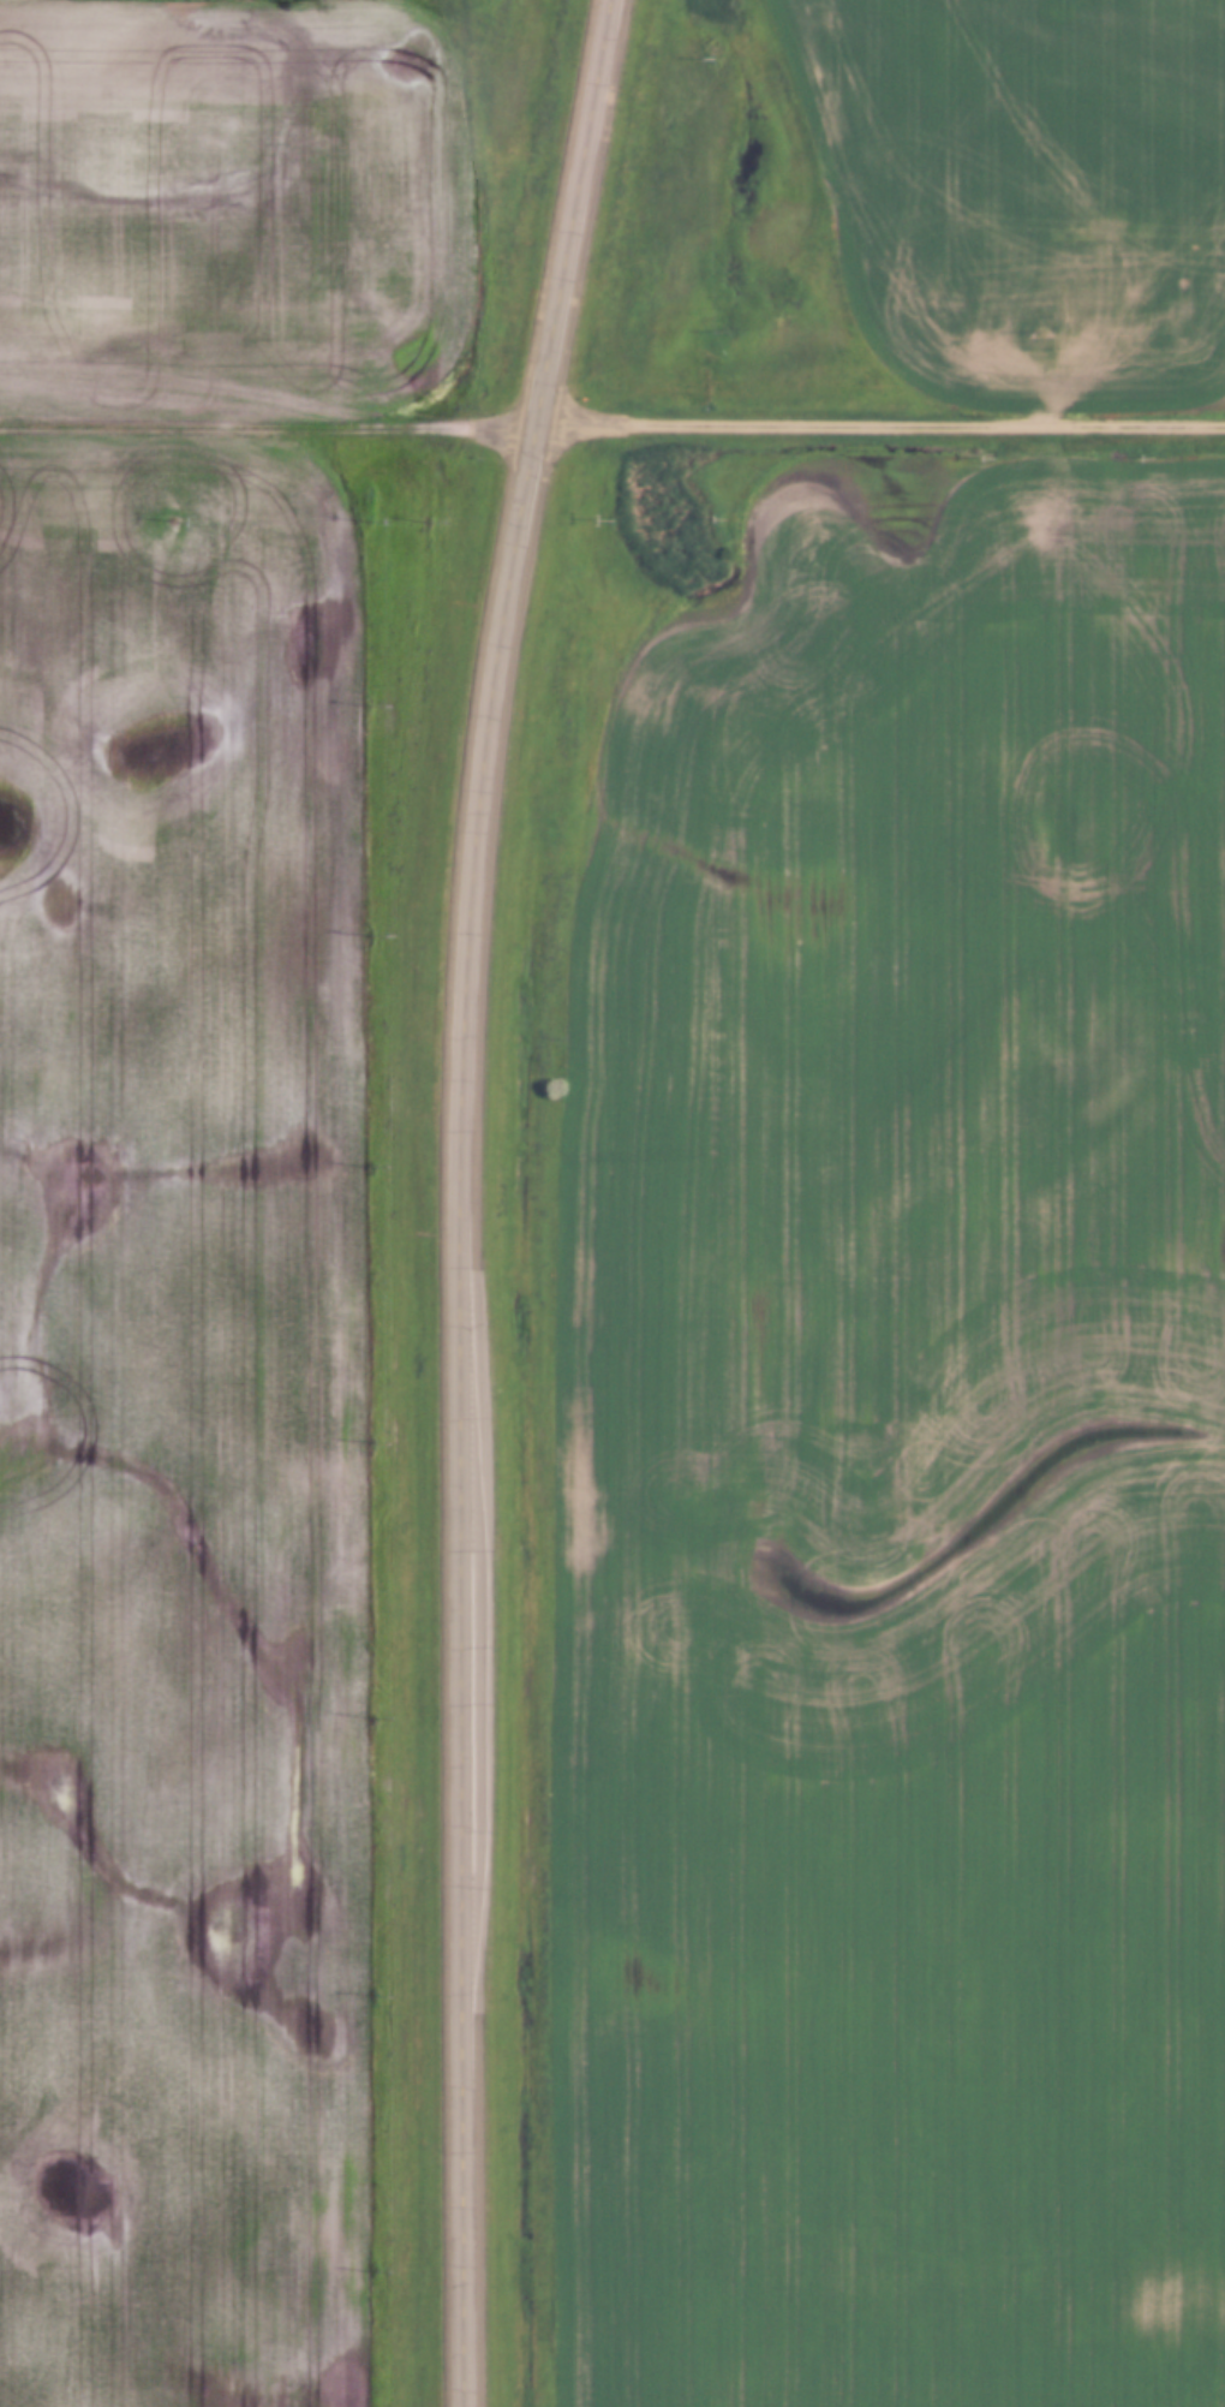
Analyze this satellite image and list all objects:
road: (611, 425)
road: (464, 1197)

